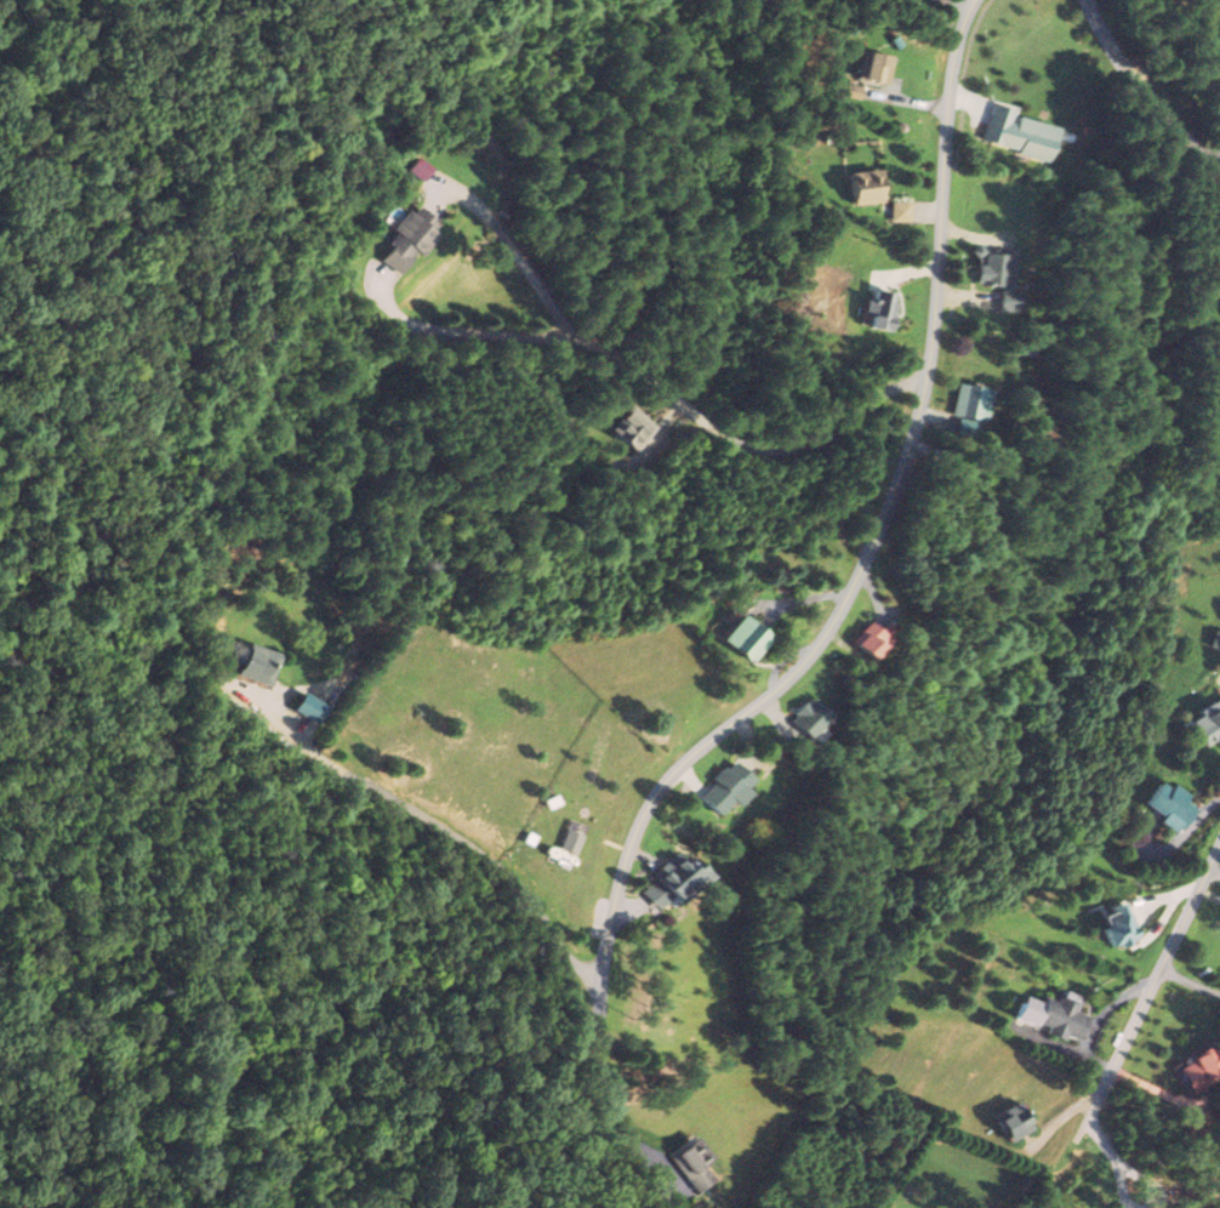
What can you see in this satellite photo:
building: (870, 69)
road: (1146, 91)
building: (1013, 133)
building: (861, 188)
building: (403, 241)
building: (994, 280)
building: (877, 312)
building: (965, 404)
building: (629, 428)
road: (878, 526)
building: (741, 639)
building: (865, 642)
building: (252, 665)
building: (1207, 725)
building: (717, 788)
building: (1164, 804)
building: (666, 877)
building: (1114, 928)
road: (1148, 997)
building: (1049, 1015)
building: (1192, 1070)
building: (1008, 1123)

